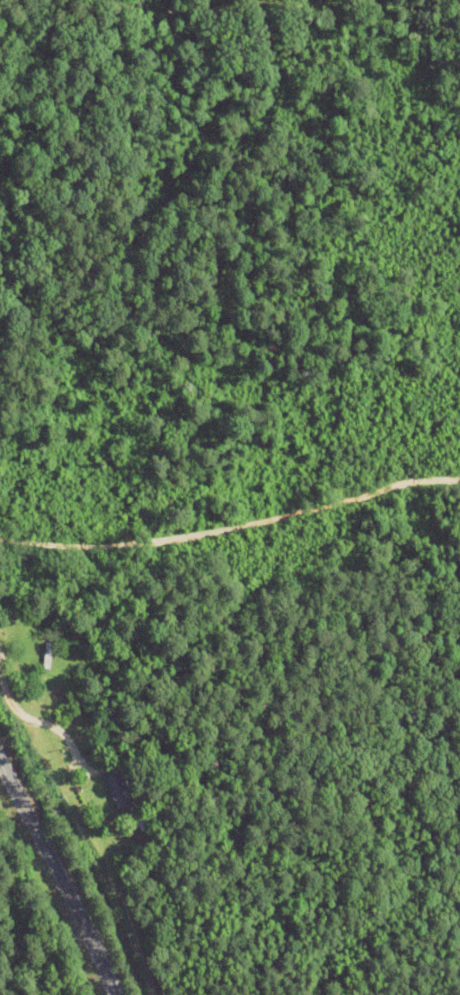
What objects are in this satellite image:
road: (230, 523)
building: (37, 637)
building: (45, 653)
road: (53, 726)
building: (117, 788)
road: (59, 875)

